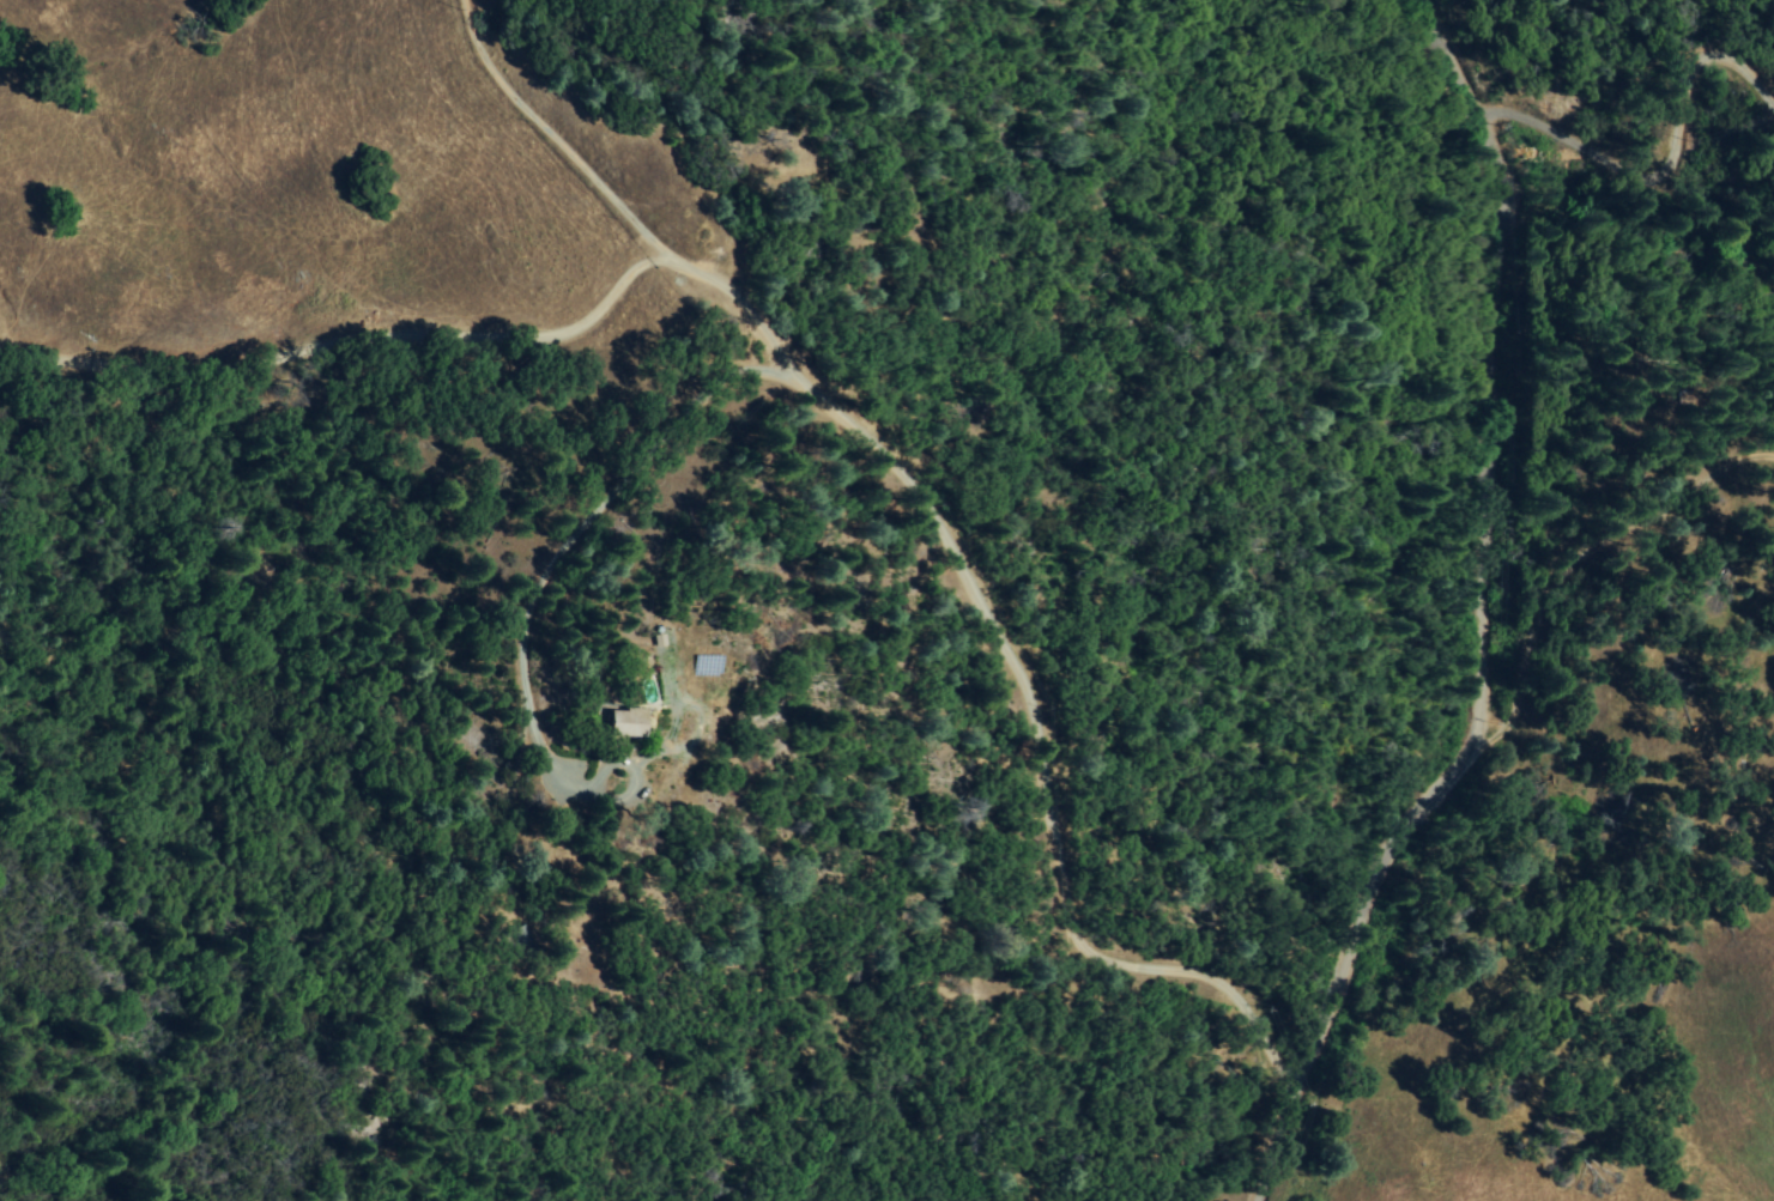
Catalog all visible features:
road: (553, 135)
road: (827, 398)
road: (555, 554)
road: (1487, 618)
building: (617, 723)

